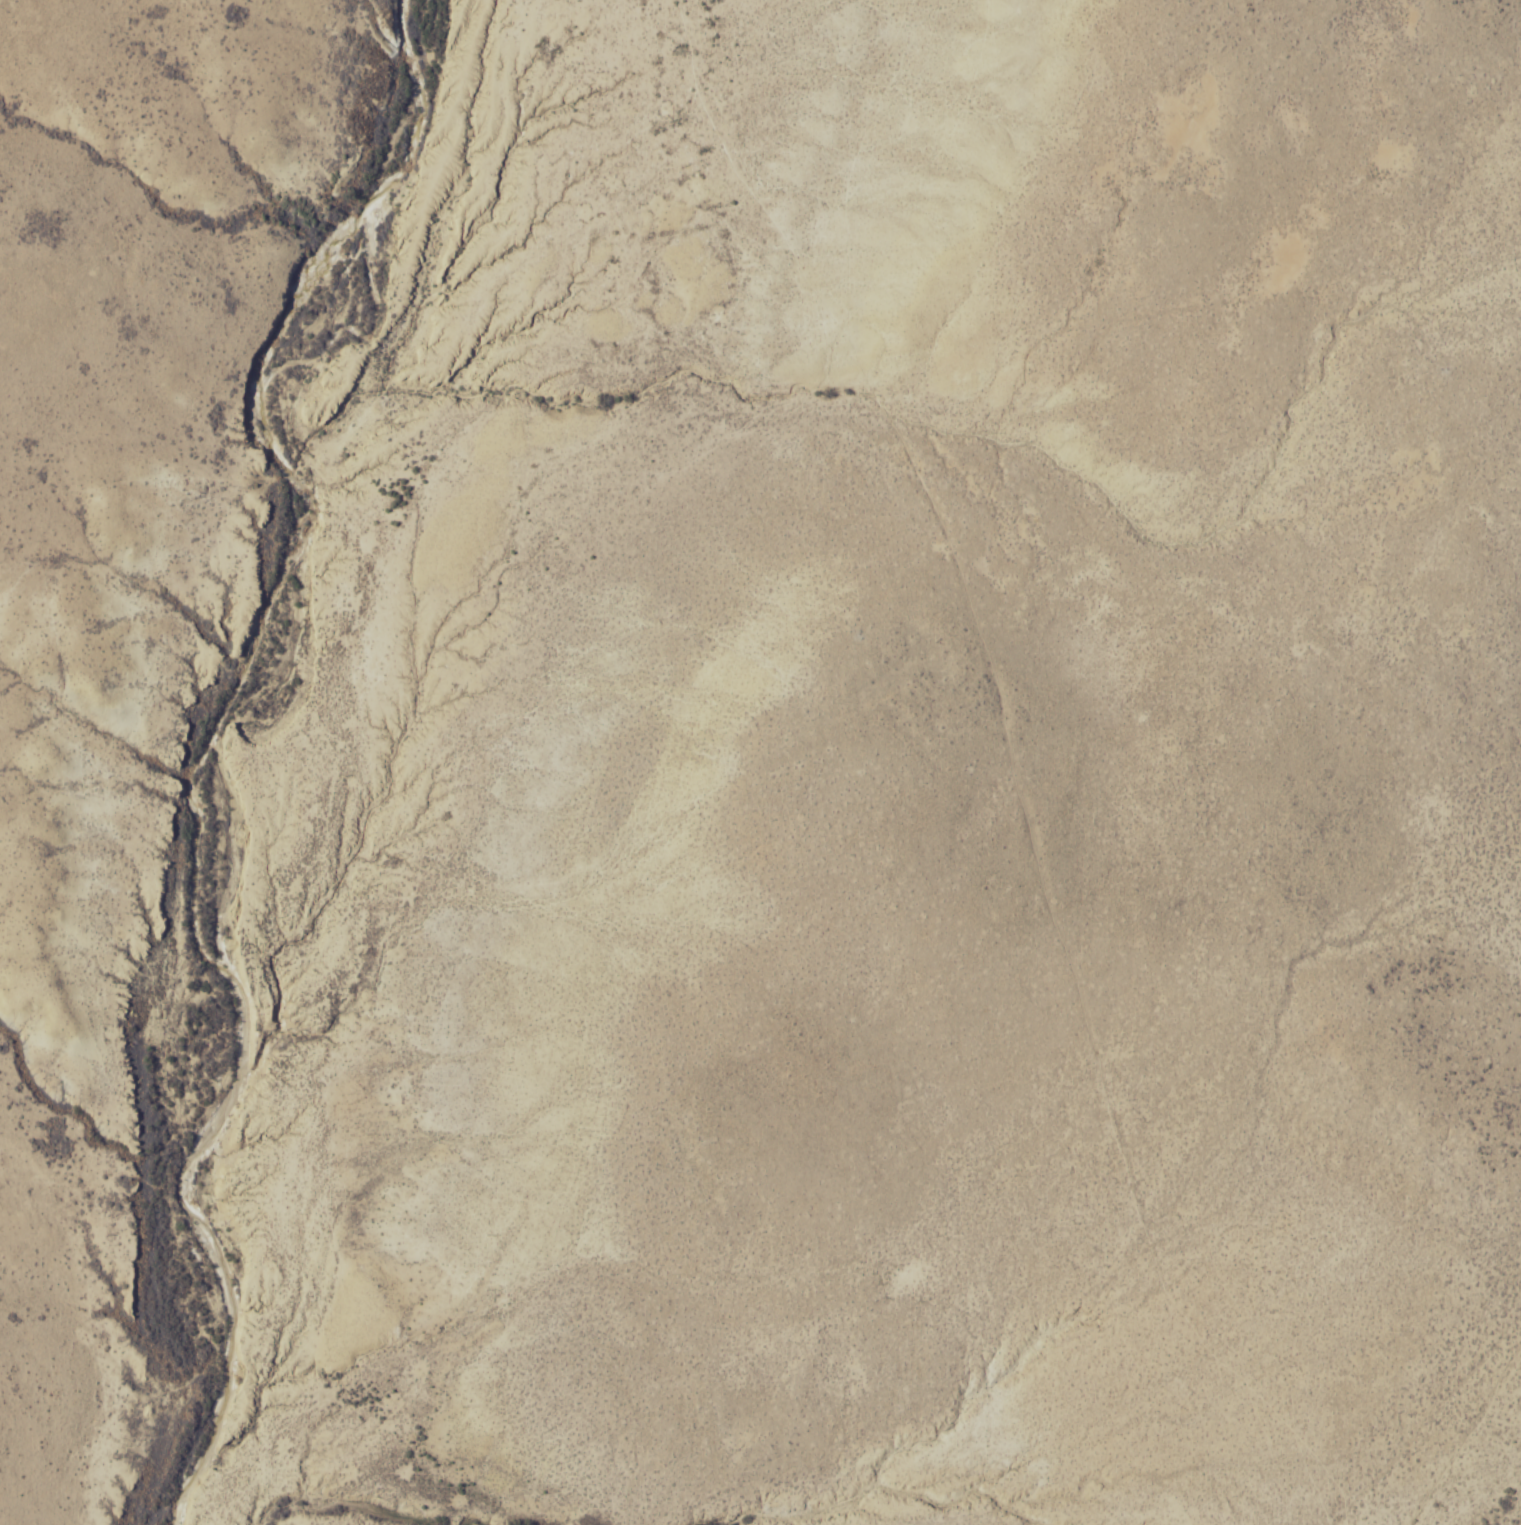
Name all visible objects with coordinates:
river: (185, 753)

